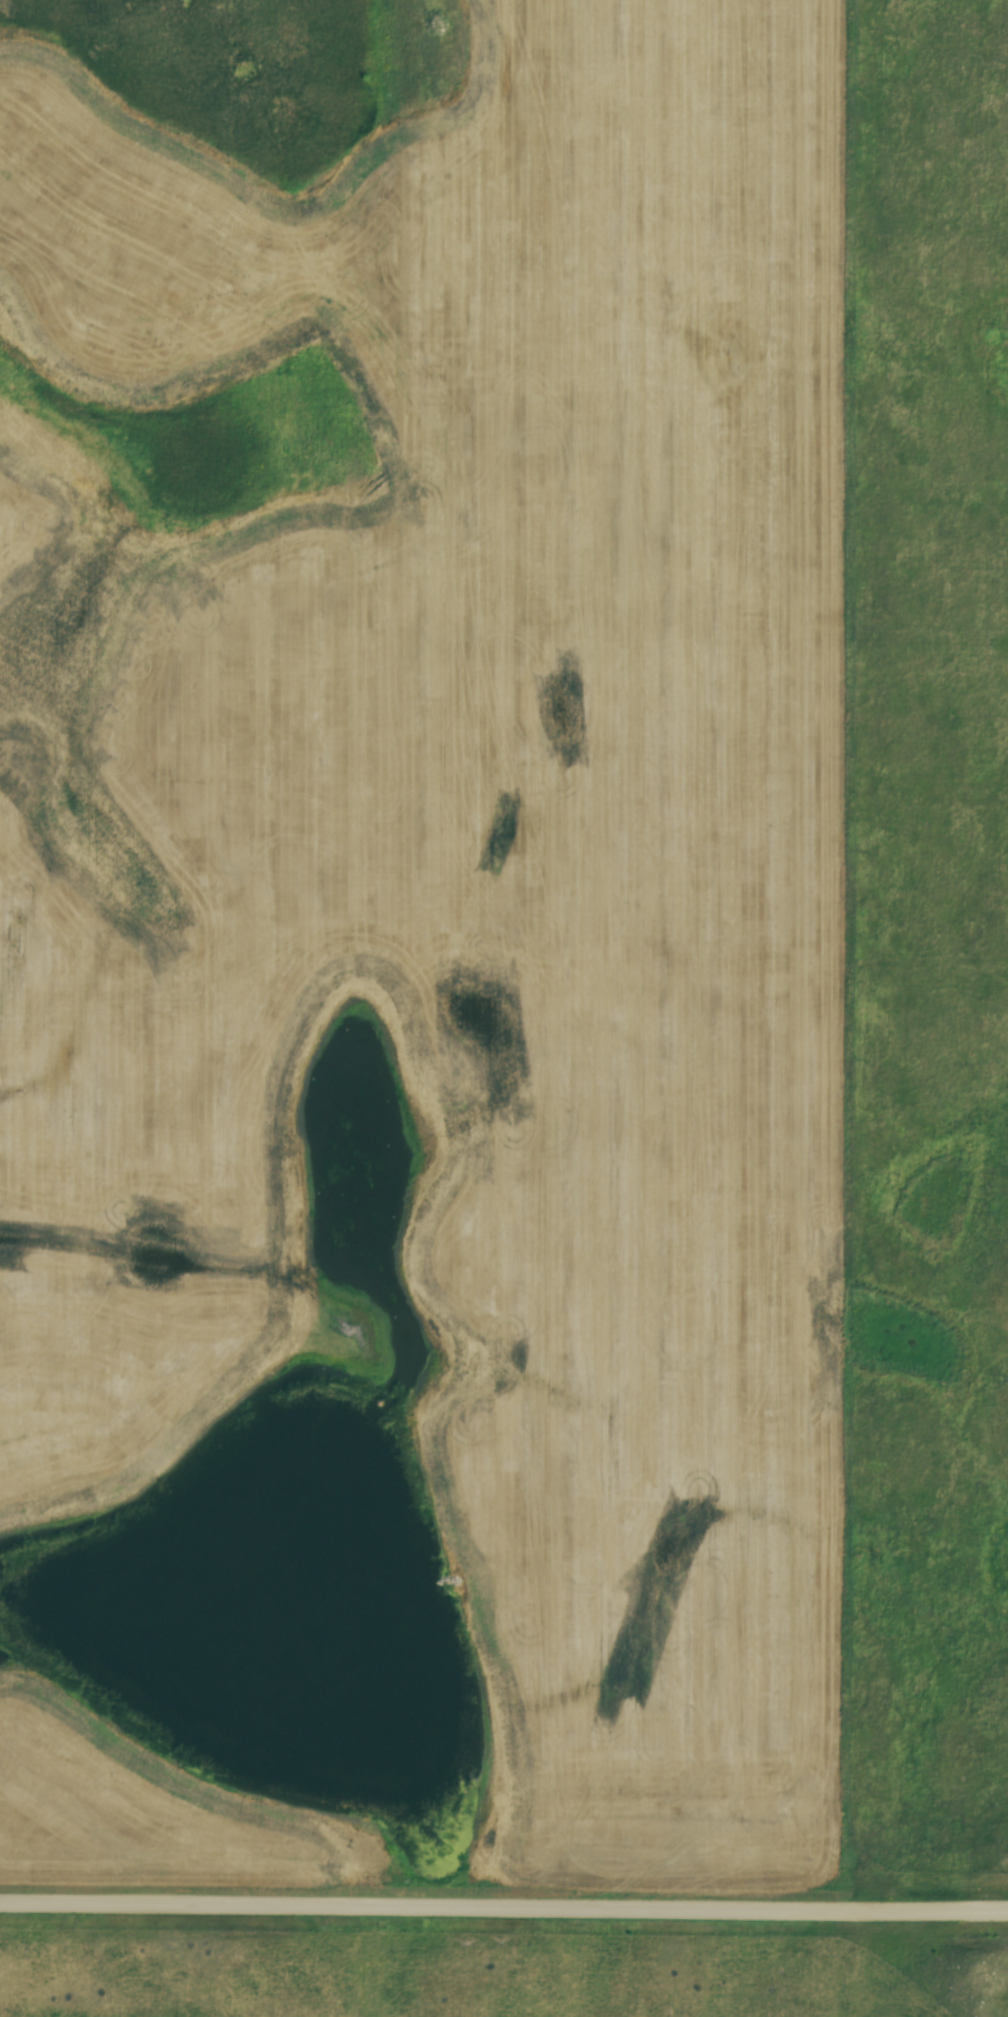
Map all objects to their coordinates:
road: (503, 1906)

